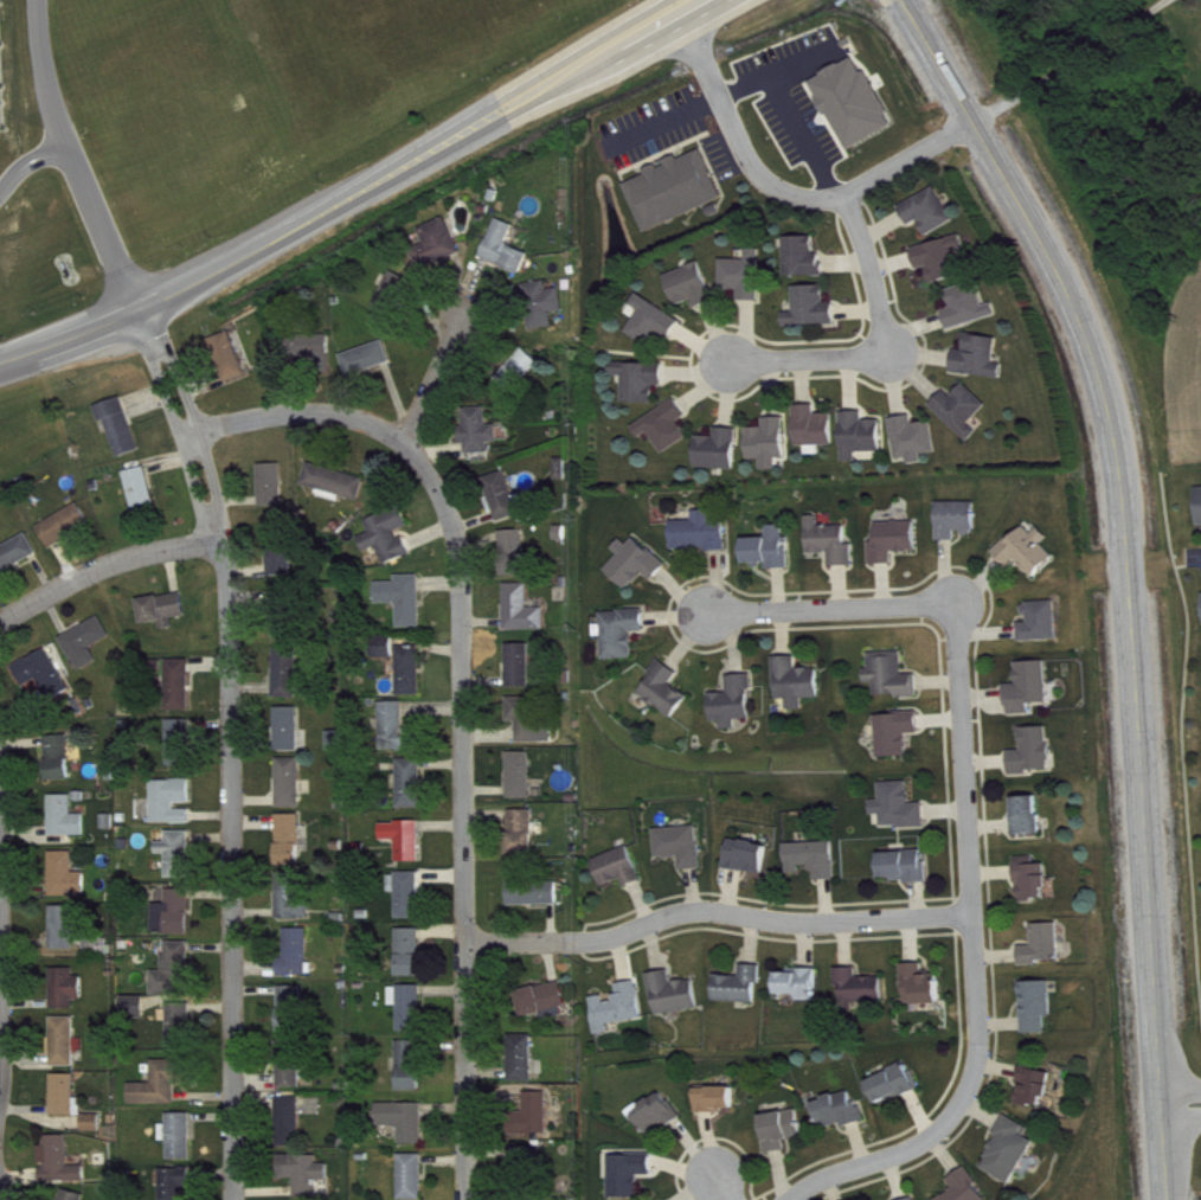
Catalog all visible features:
road: (772, 68)
road: (1072, 68)
building: (856, 111)
road: (803, 135)
road: (77, 161)
road: (32, 173)
road: (784, 191)
road: (355, 195)
building: (679, 199)
building: (932, 220)
building: (441, 254)
building: (508, 257)
building: (807, 265)
building: (944, 267)
road: (873, 271)
building: (746, 283)
building: (695, 295)
building: (397, 302)
building: (545, 313)
building: (971, 315)
building: (815, 316)
building: (655, 329)
road: (810, 352)
building: (312, 359)
building: (232, 365)
building: (983, 366)
building: (371, 367)
road: (435, 377)
building: (524, 379)
building: (643, 389)
road: (298, 417)
building: (964, 418)
building: (123, 435)
building: (668, 435)
building: (817, 435)
building: (482, 439)
building: (863, 444)
building: (916, 448)
building: (771, 451)
building: (721, 458)
building: (338, 489)
building: (275, 493)
building: (144, 499)
building: (508, 506)
building: (959, 528)
building: (69, 533)
building: (705, 540)
building: (391, 544)
building: (897, 550)
building: (834, 551)
building: (773, 558)
building: (1030, 559)
building: (518, 560)
building: (19, 563)
building: (283, 563)
road: (103, 565)
building: (638, 571)
road: (1124, 576)
building: (406, 608)
road: (831, 614)
building: (167, 617)
building: (526, 618)
building: (1042, 630)
building: (287, 634)
building: (625, 641)
building: (90, 652)
building: (522, 674)
building: (413, 679)
building: (290, 681)
building: (46, 682)
building: (894, 684)
building: (799, 691)
building: (182, 693)
building: (1032, 697)
building: (668, 699)
building: (737, 711)
building: (534, 726)
building: (291, 737)
building: (402, 738)
building: (899, 742)
building: (338, 749)
road: (224, 750)
building: (181, 751)
building: (1035, 759)
building: (62, 766)
building: (524, 784)
building: (293, 791)
building: (413, 791)
road: (464, 807)
building: (173, 810)
building: (901, 815)
building: (1029, 824)
building: (69, 826)
building: (525, 841)
building: (293, 848)
building: (406, 848)
building: (683, 854)
building: (180, 862)
building: (751, 865)
building: (816, 867)
building: (907, 874)
building: (622, 877)
road: (970, 884)
building: (69, 885)
building: (1035, 888)
building: (537, 901)
building: (410, 903)
building: (295, 906)
road: (874, 919)
building: (176, 922)
building: (69, 933)
road: (621, 935)
building: (1046, 954)
building: (412, 961)
building: (176, 980)
building: (802, 992)
building: (741, 994)
building: (924, 994)
building: (69, 996)
building: (861, 997)
building: (676, 1002)
building: (545, 1007)
building: (411, 1015)
building: (621, 1015)
building: (1040, 1015)
building: (136, 1016)
building: (295, 1018)
building: (182, 1033)
building: (66, 1050)
building: (525, 1066)
building: (294, 1074)
building: (413, 1074)
road: (1180, 1090)
building: (163, 1092)
building: (897, 1092)
building: (1038, 1096)
building: (69, 1104)
building: (719, 1108)
road: (1180, 1110)
building: (843, 1119)
building: (537, 1123)
building: (660, 1123)
building: (406, 1129)
building: (293, 1130)
building: (96, 1131)
building: (784, 1138)
building: (182, 1146)
building: (1013, 1160)
road: (858, 1166)
building: (529, 1169)
building: (64, 1170)
building: (309, 1180)
building: (632, 1180)
building: (415, 1181)
road: (732, 1185)
building: (178, 1188)
building: (969, 1191)
building: (66, 1199)

